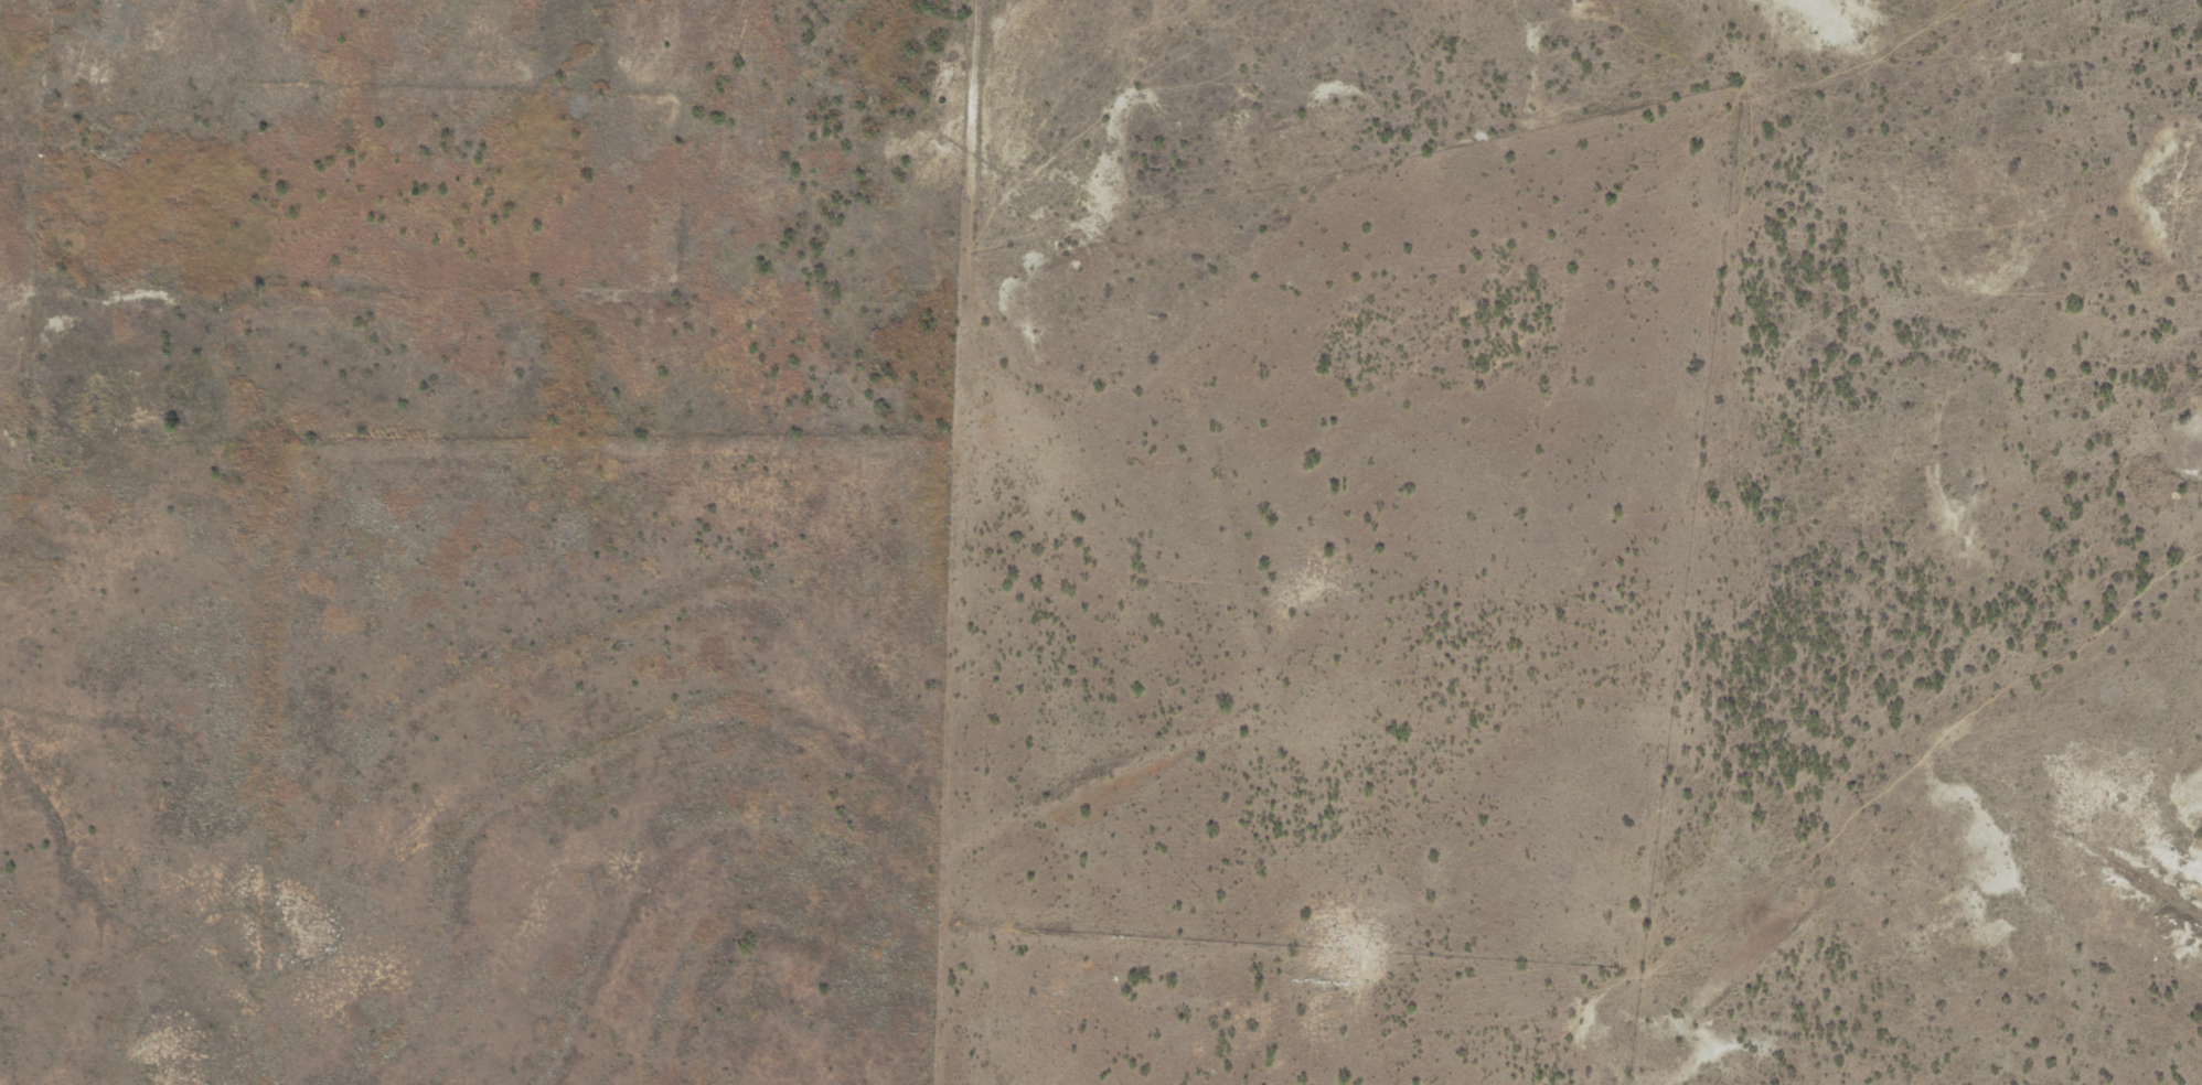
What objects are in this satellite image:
road: (1843, 37)
road: (634, 216)
road: (110, 487)

